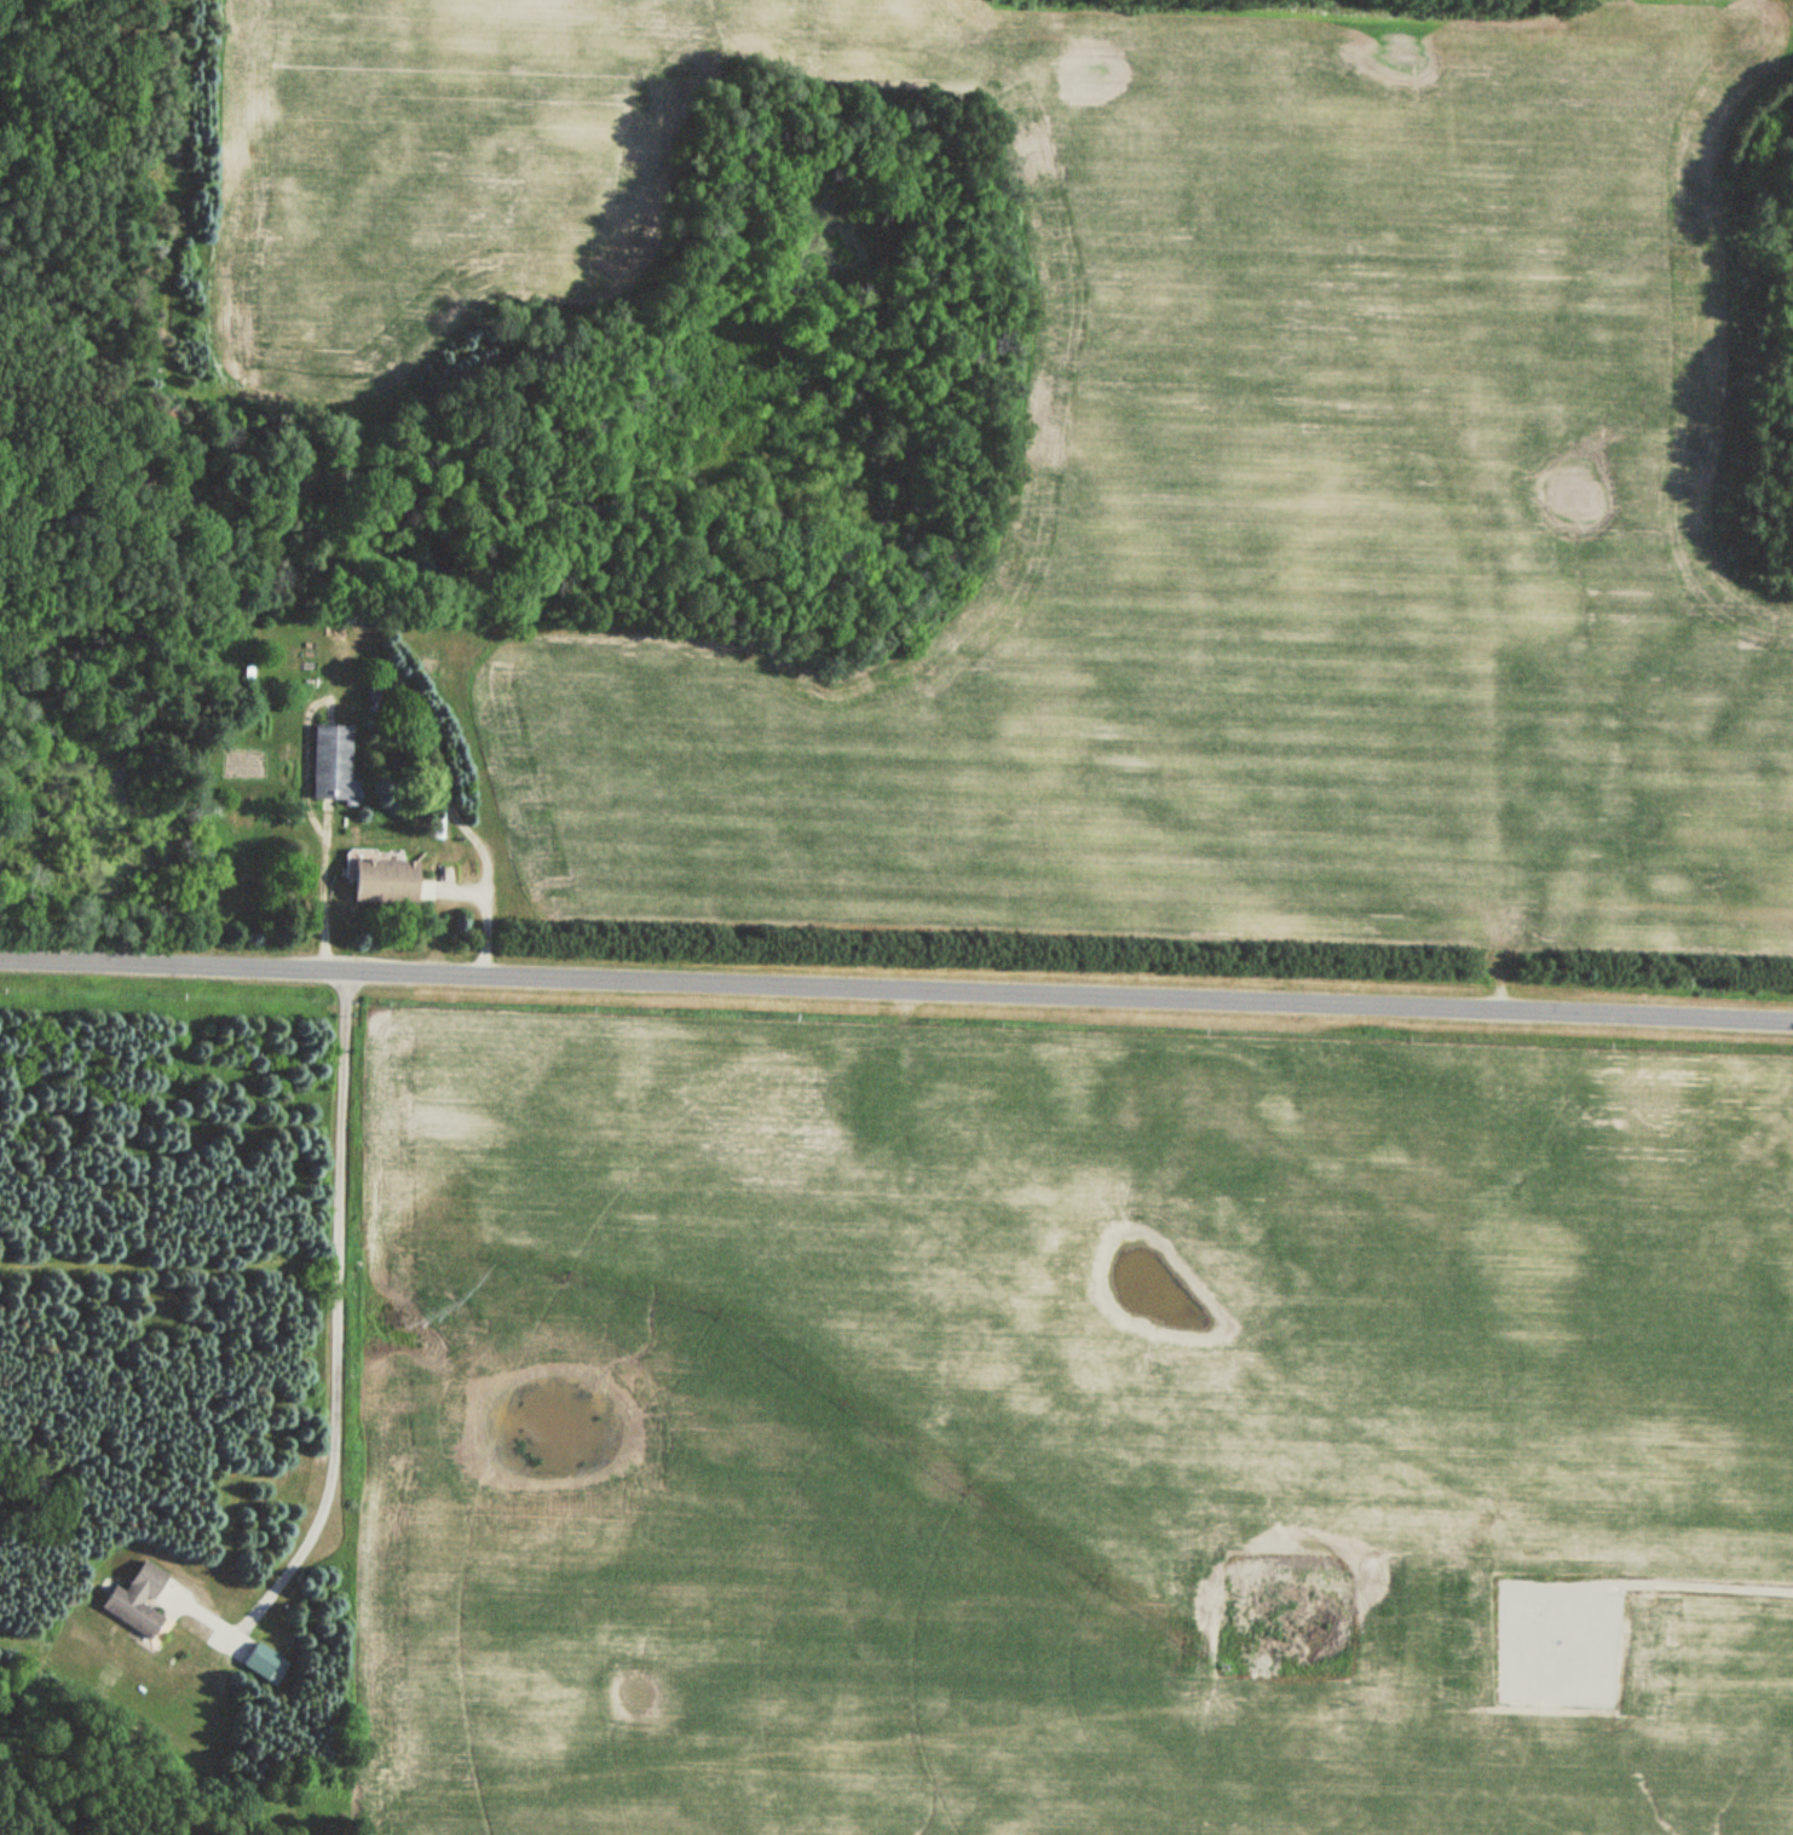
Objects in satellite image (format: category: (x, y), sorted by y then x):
road: (404, 735)
building: (330, 766)
road: (1472, 771)
building: (377, 879)
road: (895, 986)
road: (341, 1190)
road: (313, 1520)
road: (1668, 1577)
building: (134, 1601)
building: (259, 1662)

